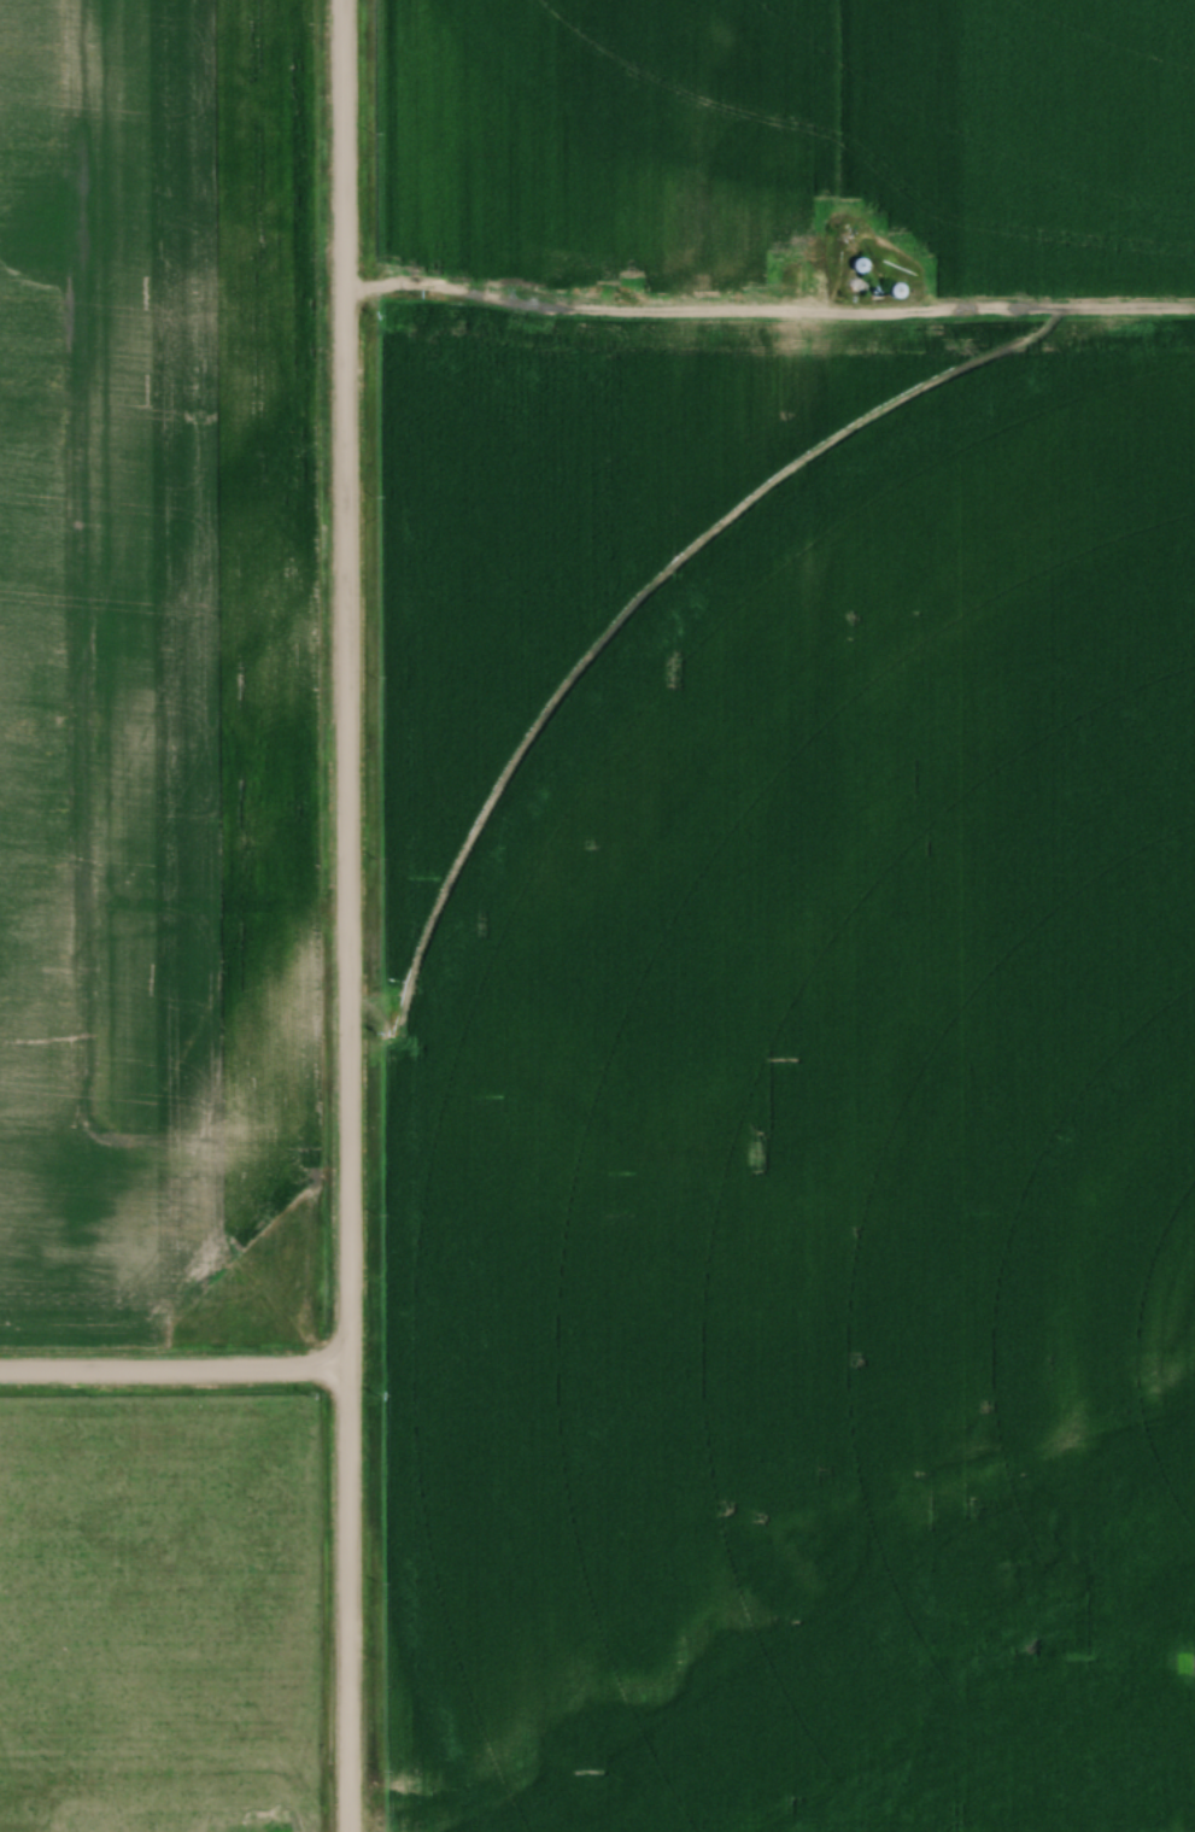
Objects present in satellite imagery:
road: (342, 915)
road: (172, 1374)

